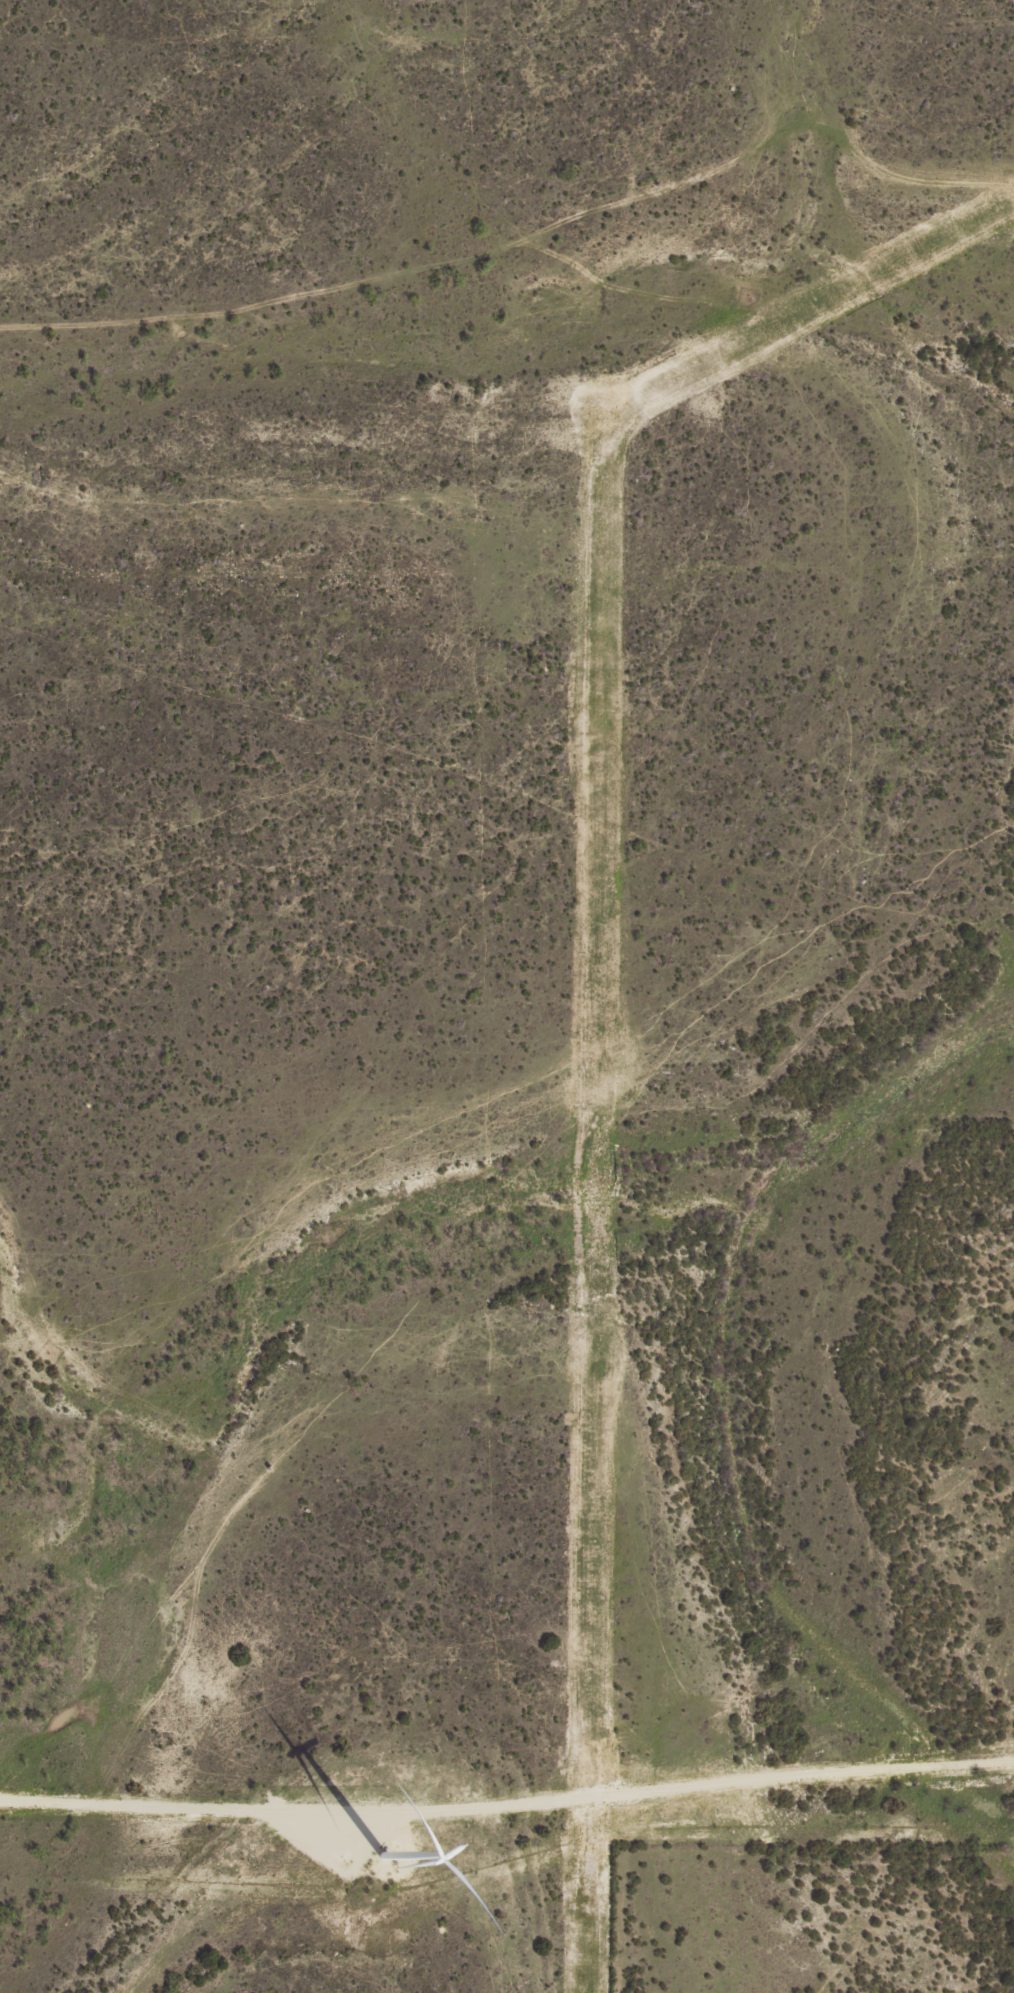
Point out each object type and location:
wind turbine: (370, 1820)

